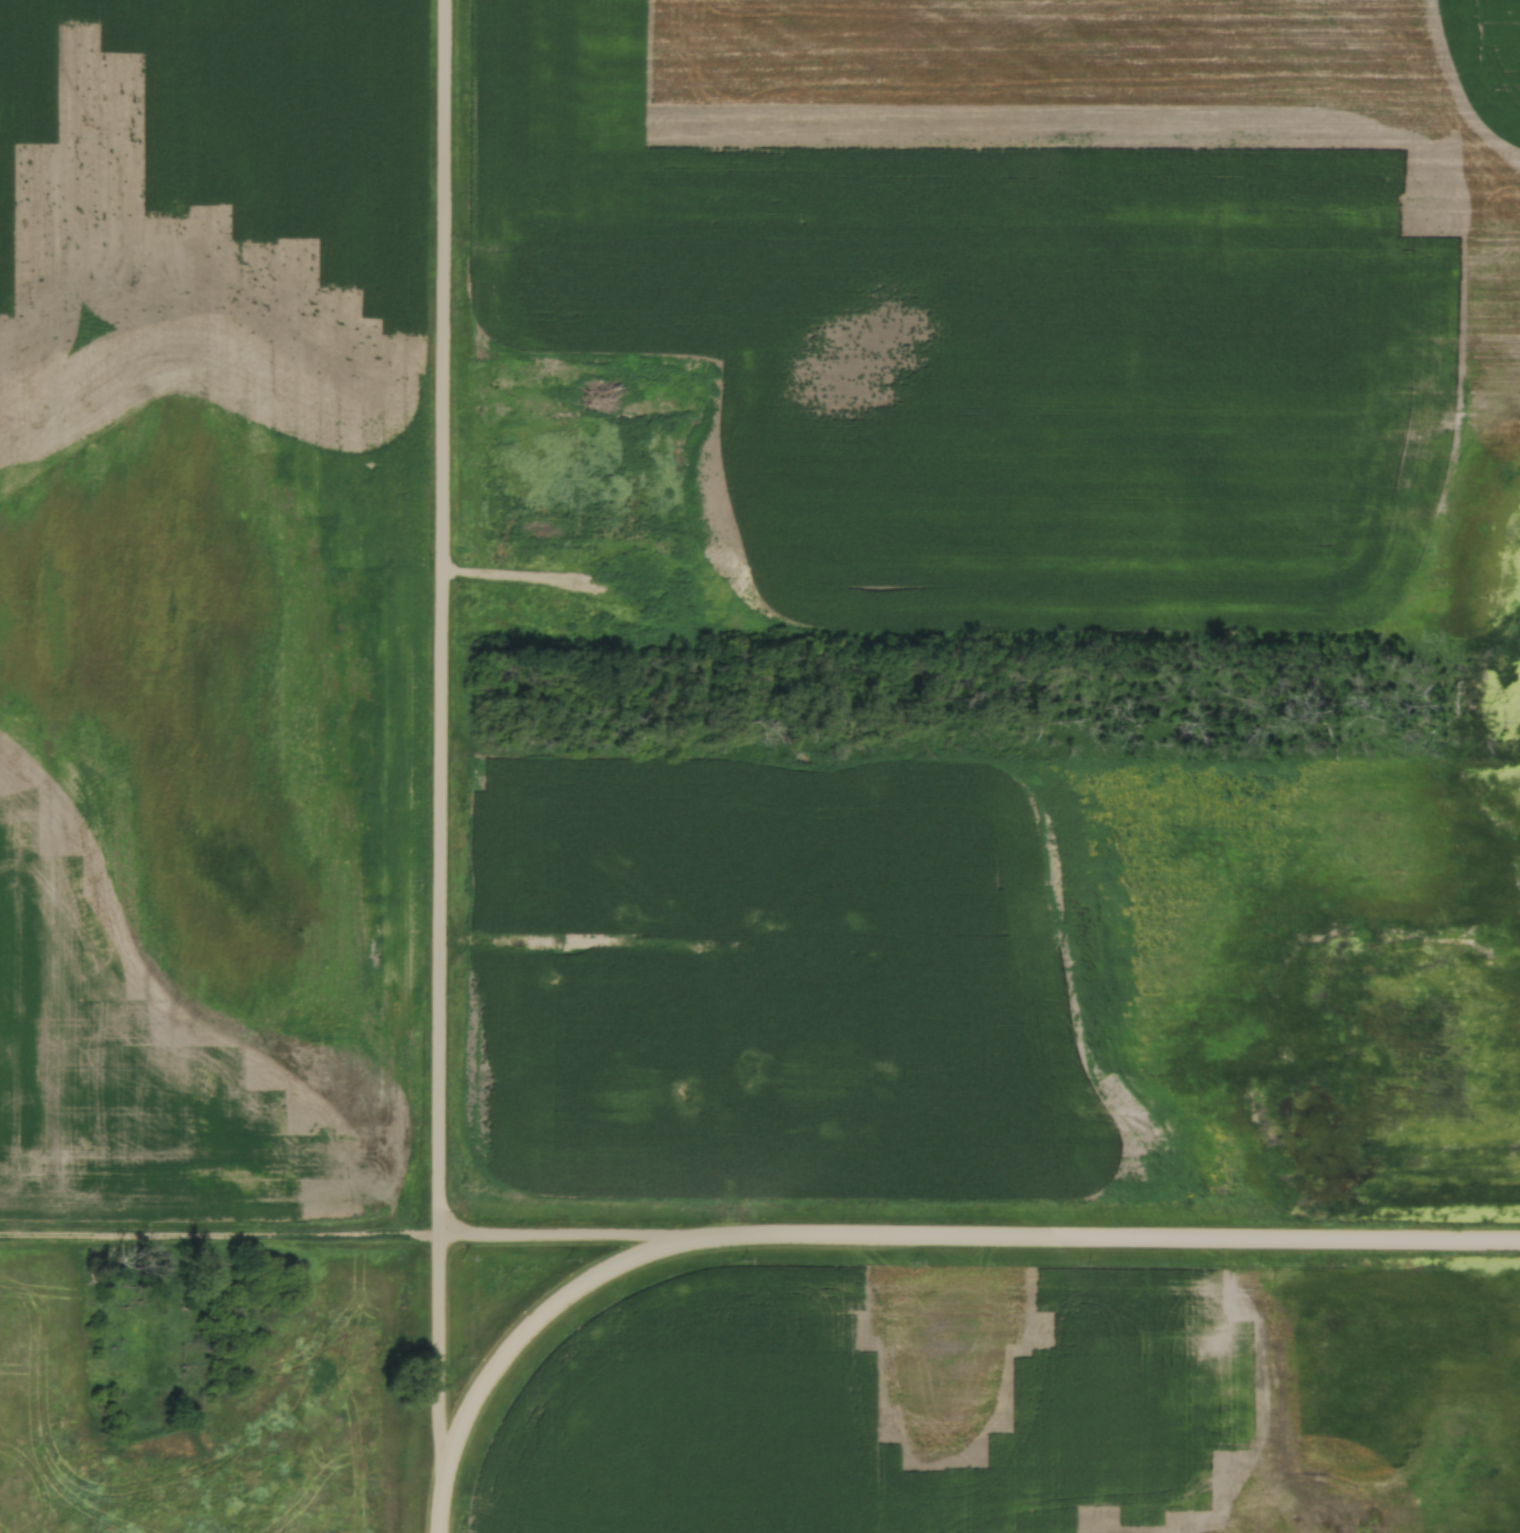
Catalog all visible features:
building: (627, 571)
road: (438, 766)
road: (760, 1236)
road: (516, 1341)

